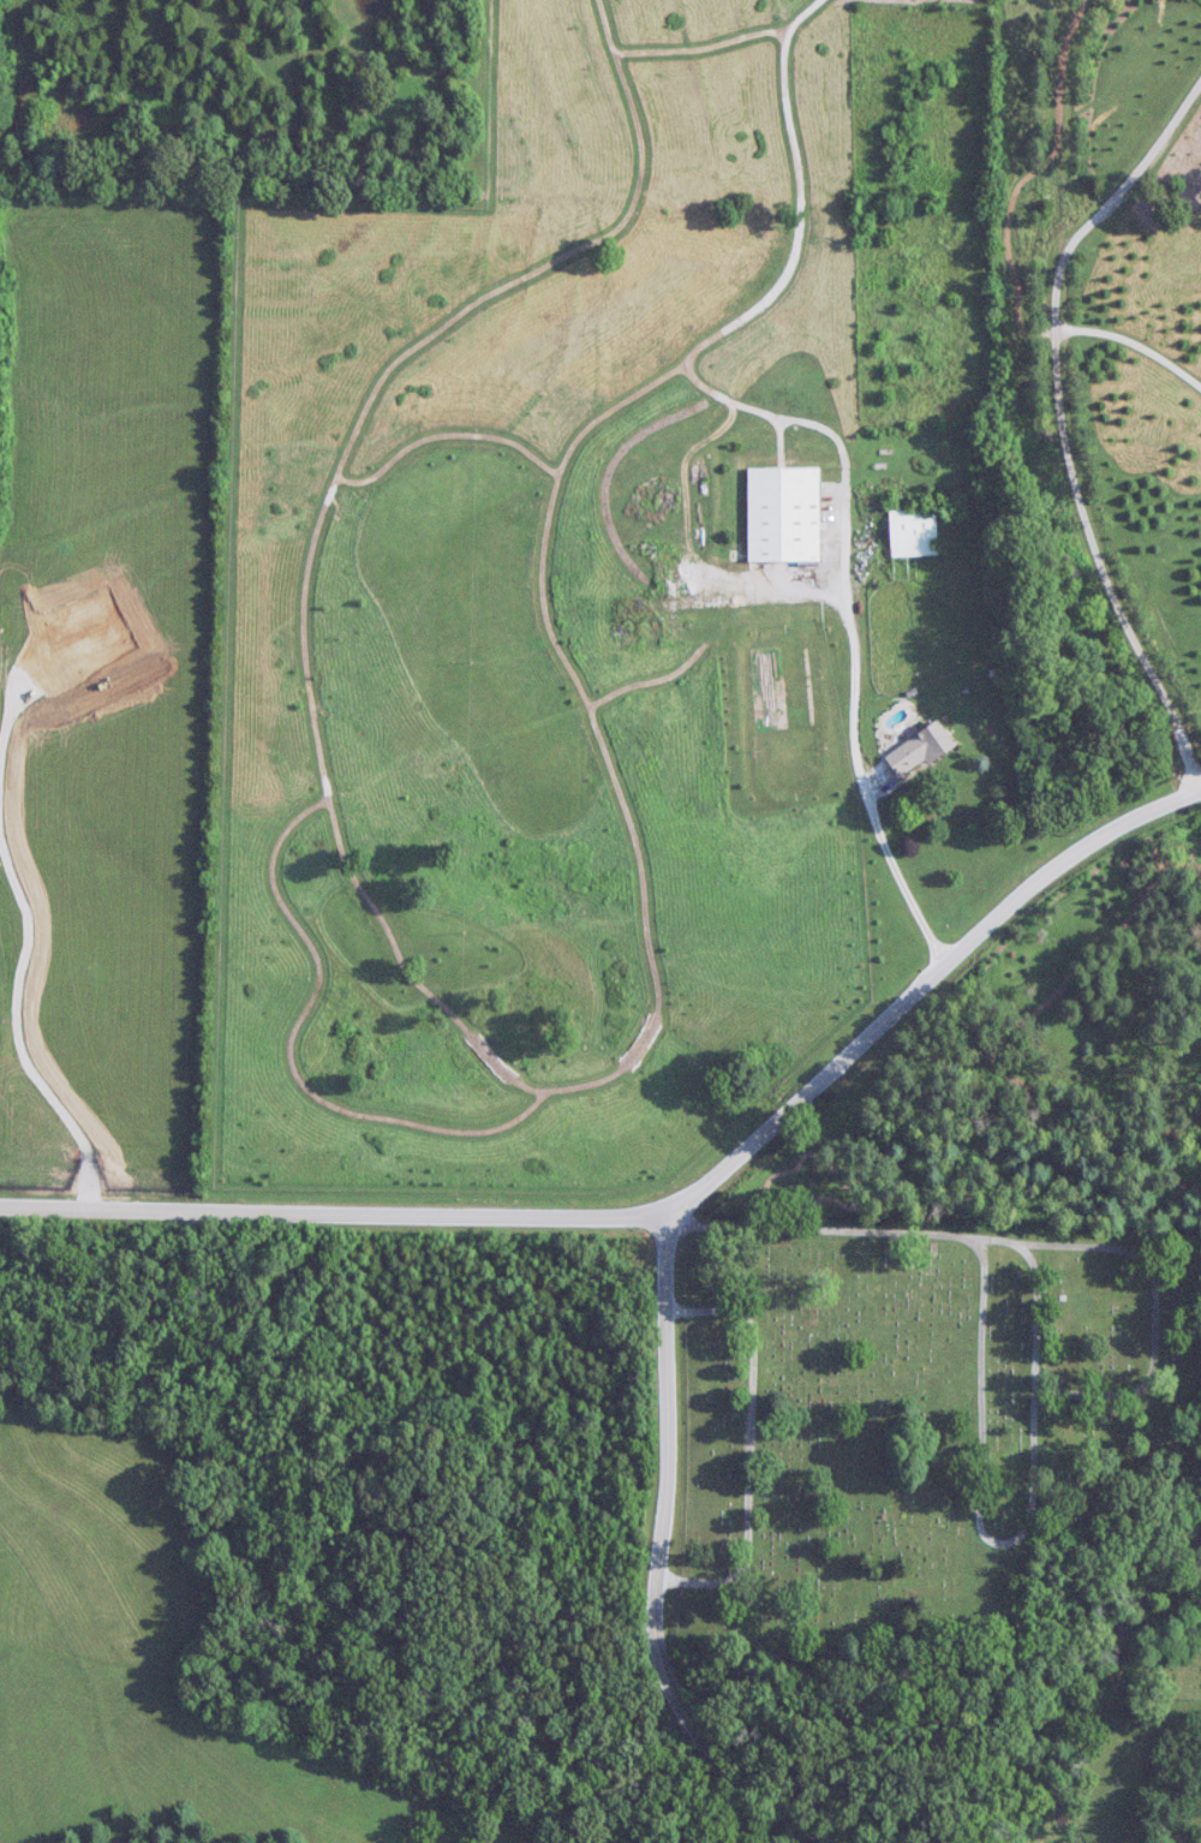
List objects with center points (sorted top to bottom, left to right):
road: (1062, 417)
building: (784, 514)
building: (913, 532)
building: (637, 614)
road: (854, 691)
building: (920, 750)
road: (335, 1209)
road: (670, 1222)
road: (1027, 1240)

